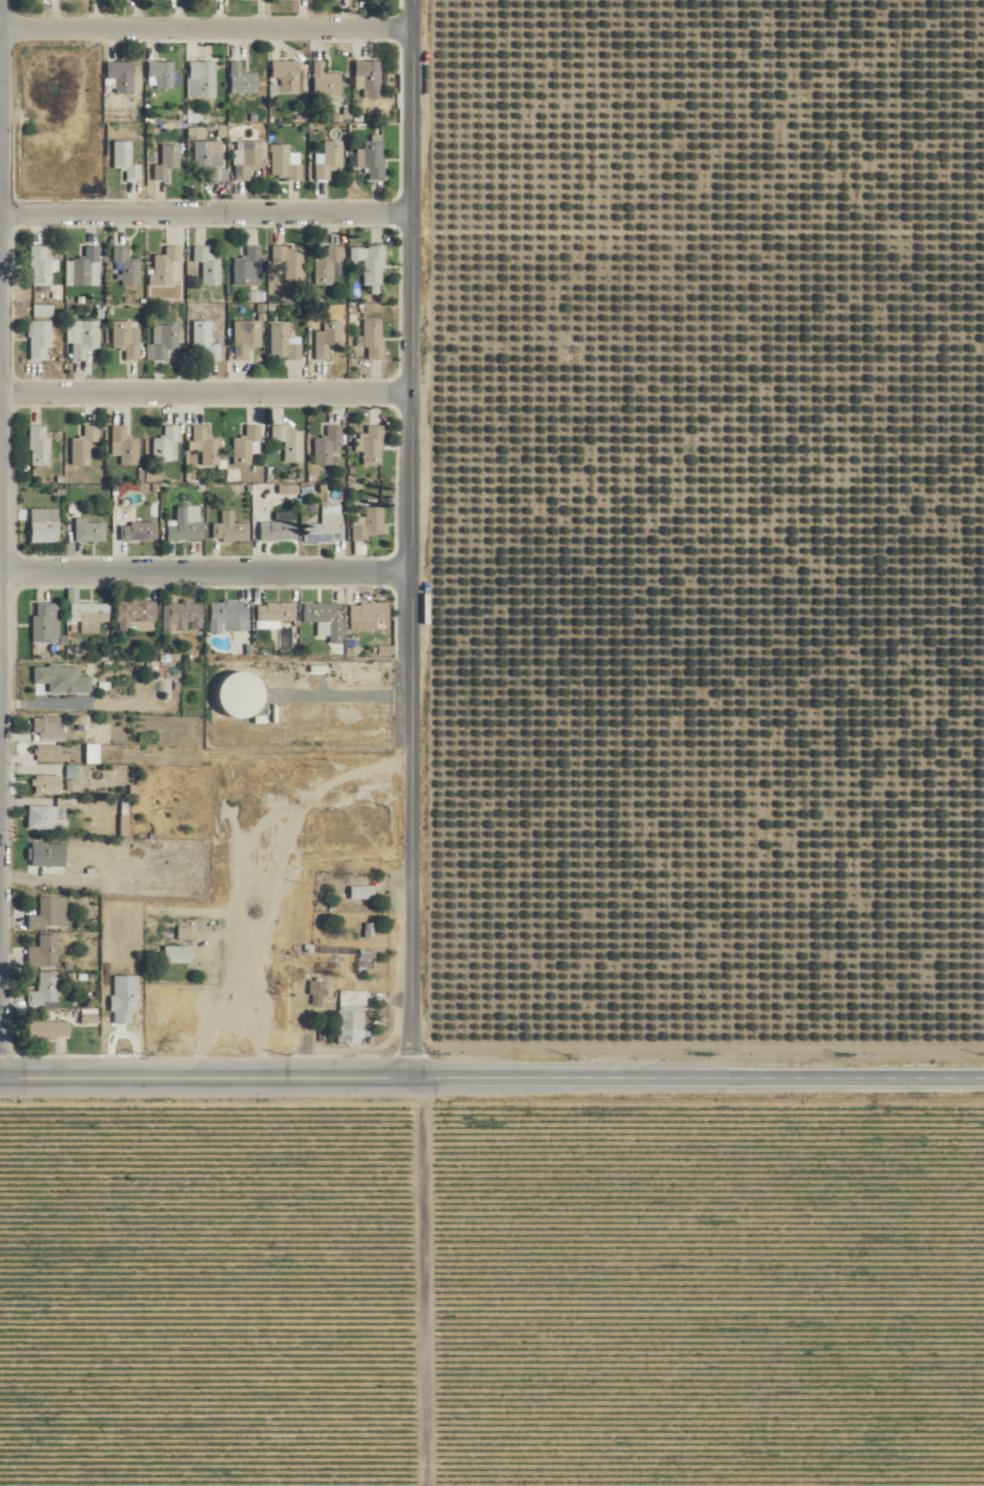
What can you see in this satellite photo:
road: (205, 21)
building: (164, 75)
building: (286, 75)
building: (120, 78)
building: (369, 78)
building: (203, 80)
building: (243, 80)
building: (326, 84)
building: (372, 157)
building: (247, 158)
building: (126, 160)
building: (329, 160)
building: (209, 161)
building: (168, 162)
building: (286, 163)
road: (204, 205)
building: (291, 262)
building: (370, 263)
building: (41, 265)
building: (328, 265)
building: (167, 266)
building: (208, 266)
building: (127, 267)
building: (249, 267)
building: (85, 268)
building: (43, 310)
building: (85, 338)
building: (246, 338)
building: (127, 339)
building: (373, 339)
building: (41, 340)
building: (163, 340)
building: (328, 340)
building: (205, 342)
building: (283, 343)
road: (204, 384)
building: (290, 442)
building: (166, 444)
building: (246, 444)
building: (206, 445)
building: (373, 445)
building: (39, 446)
building: (84, 446)
building: (125, 446)
building: (328, 446)
building: (187, 524)
building: (368, 524)
building: (326, 526)
building: (230, 529)
building: (44, 530)
building: (89, 531)
building: (139, 531)
building: (278, 531)
road: (407, 535)
road: (203, 561)
building: (87, 613)
building: (134, 613)
building: (275, 613)
building: (368, 615)
building: (183, 616)
building: (229, 616)
building: (326, 619)
building: (46, 623)
building: (47, 725)
building: (48, 753)
building: (46, 784)
building: (46, 818)
crop: (626, 841)
building: (48, 854)
building: (361, 892)
building: (46, 914)
building: (44, 952)
building: (177, 954)
building: (334, 959)
building: (43, 988)
building: (317, 991)
building: (352, 1016)
building: (48, 1030)
road: (202, 1070)
road: (694, 1073)

